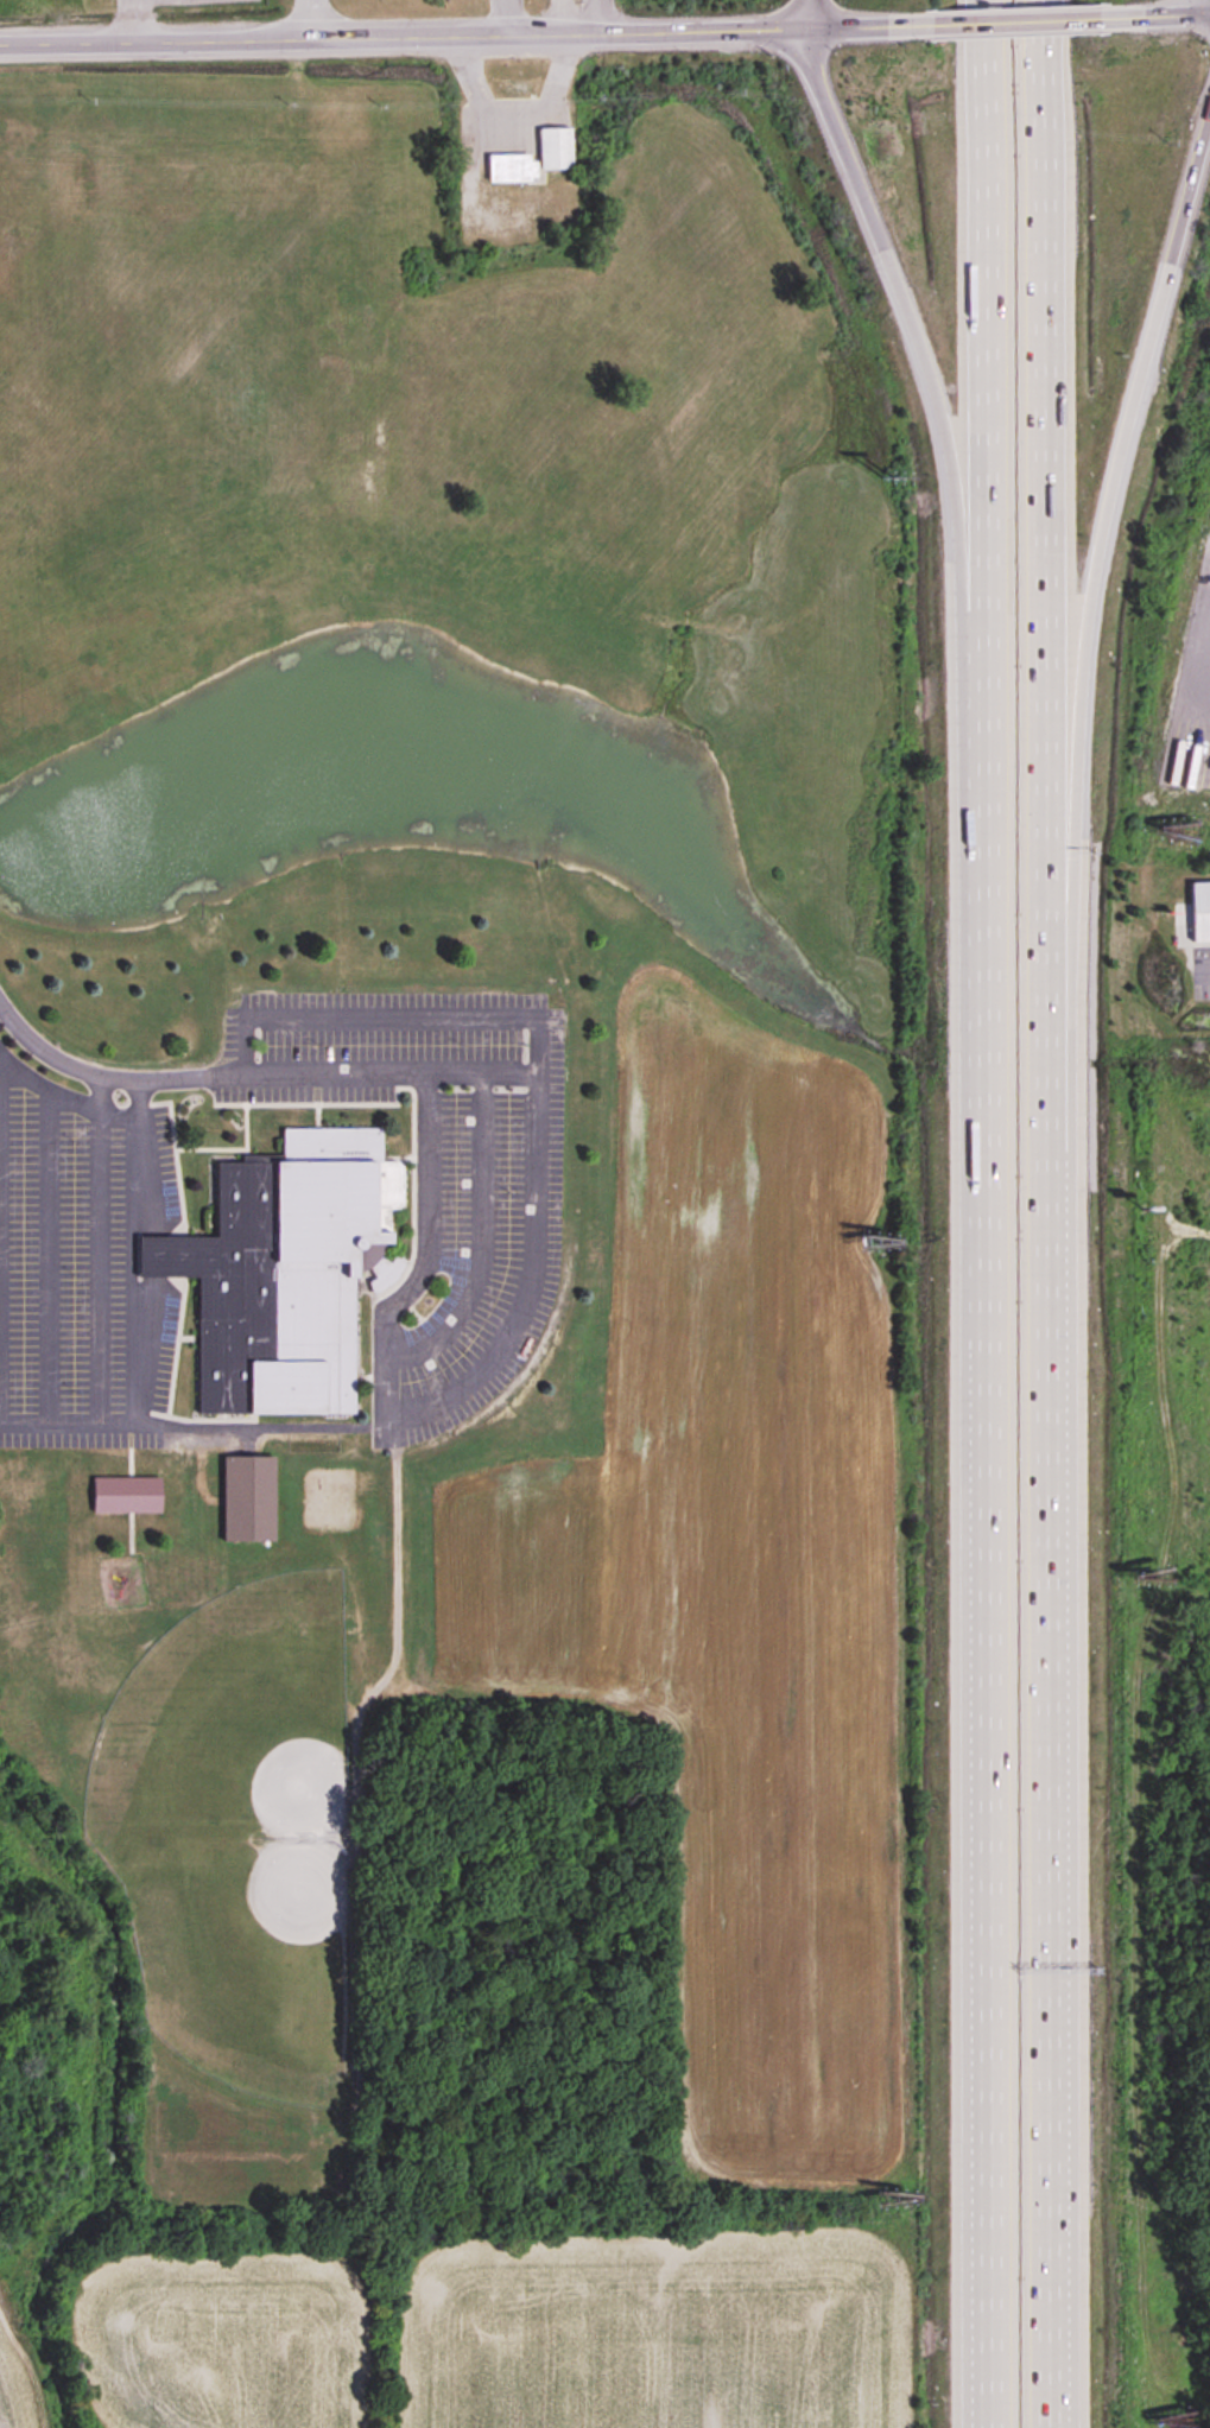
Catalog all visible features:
road: (804, 12)
road: (513, 14)
road: (559, 14)
road: (601, 14)
road: (1155, 15)
road: (312, 17)
road: (131, 18)
road: (1016, 19)
road: (465, 30)
building: (553, 147)
building: (506, 166)
road: (891, 285)
road: (1129, 413)
building: (1199, 911)
road: (195, 1074)
road: (980, 1213)
road: (1052, 1213)
building: (284, 1273)
road: (132, 1313)
road: (469, 1380)
building: (125, 1496)
building: (247, 1500)

